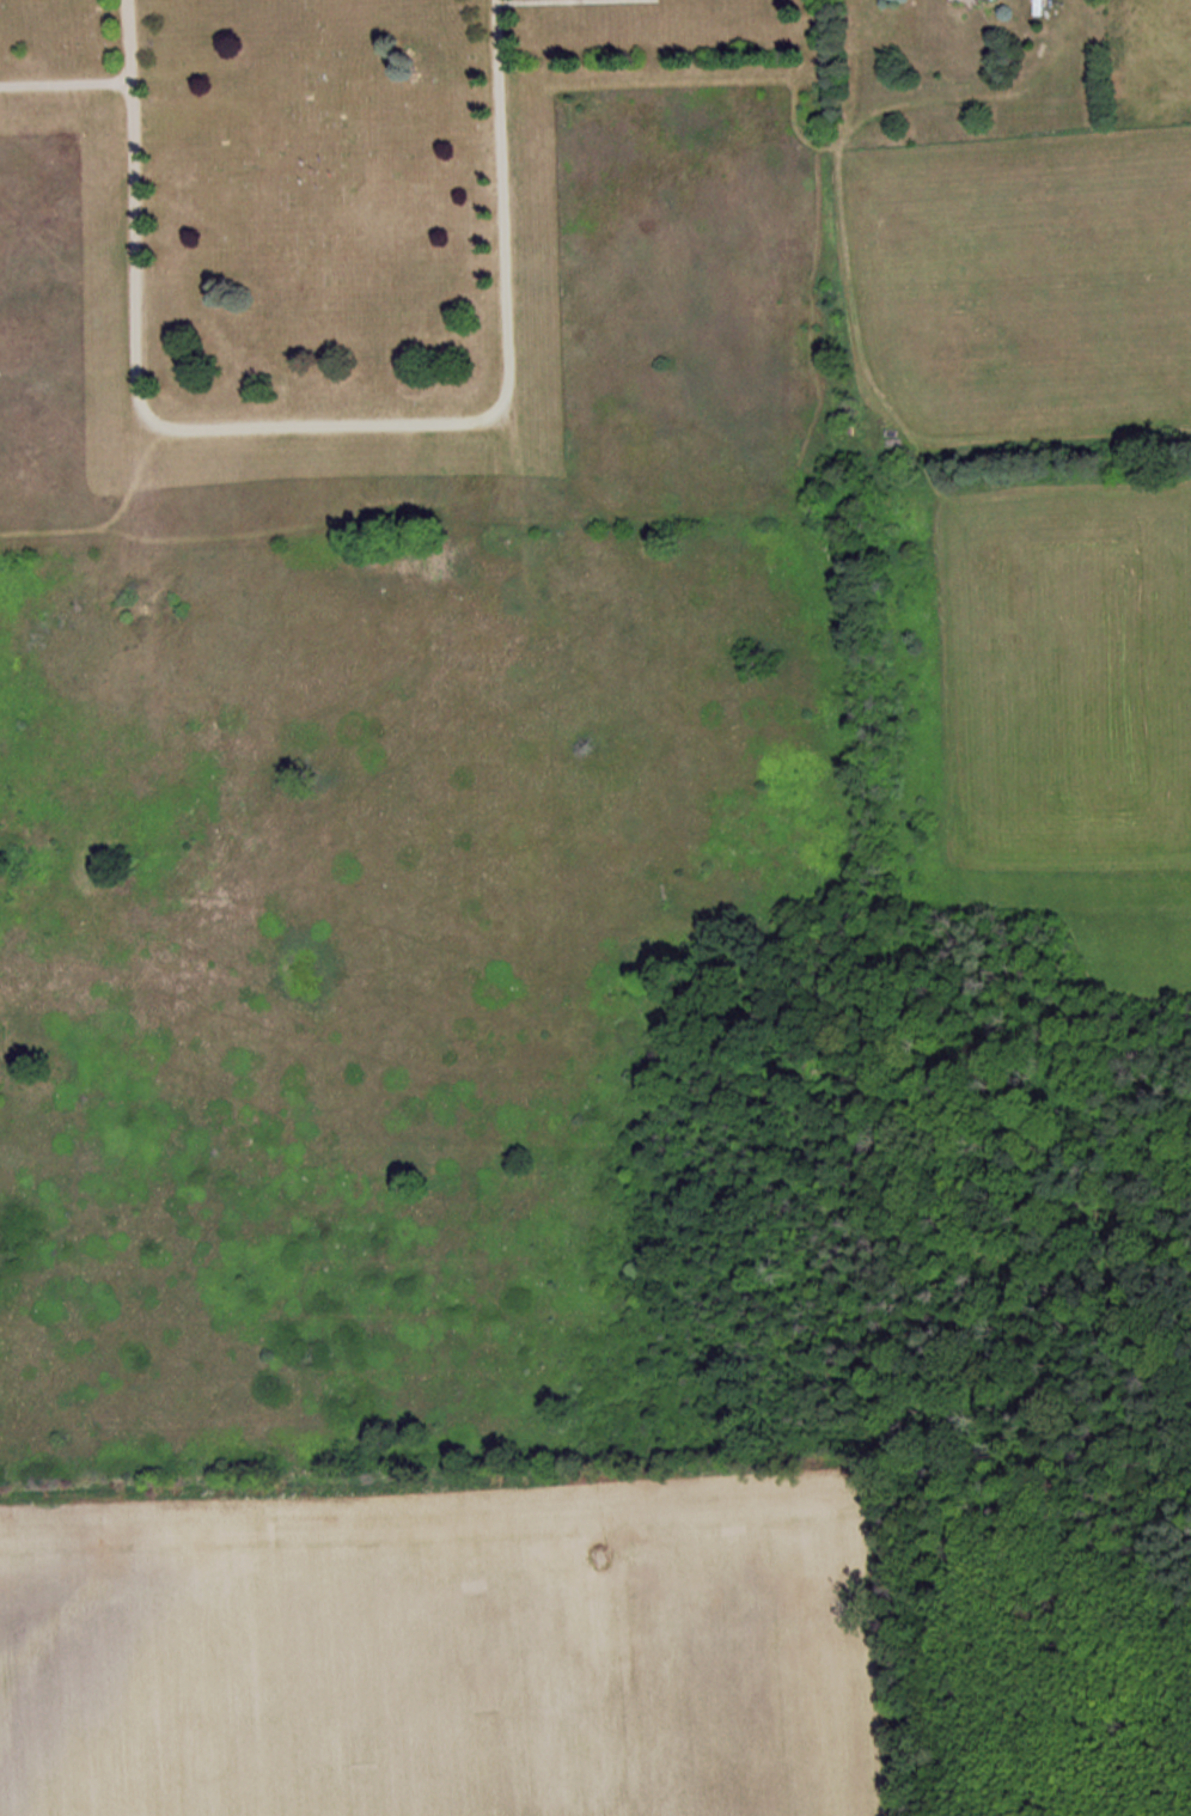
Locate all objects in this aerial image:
building: (959, 0)
building: (994, 0)

